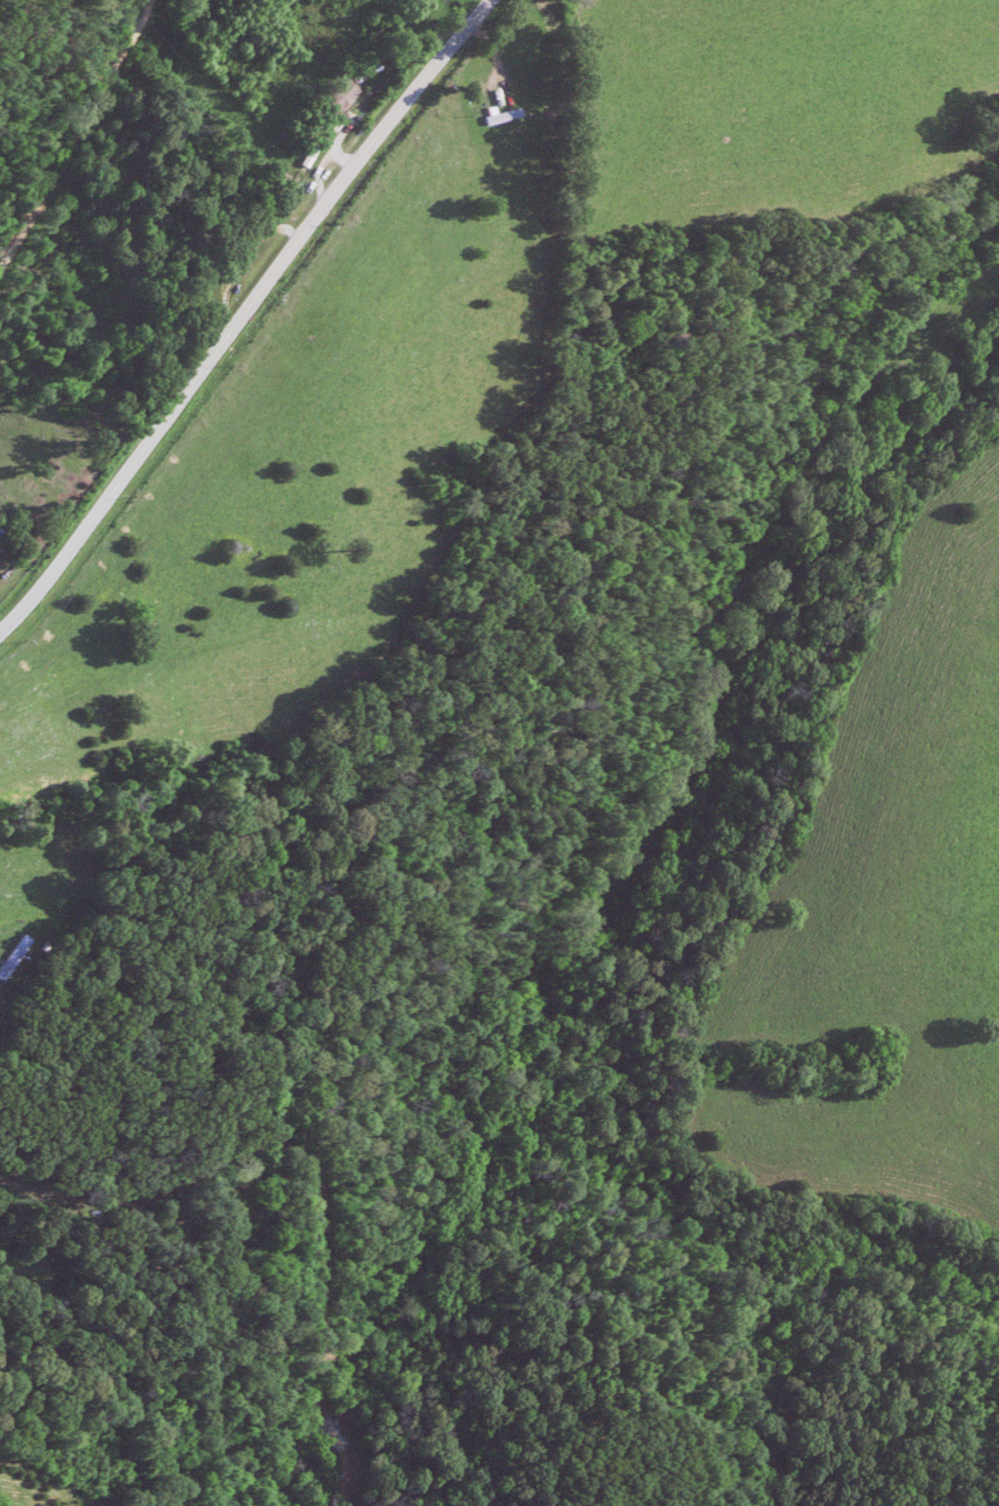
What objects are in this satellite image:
building: (334, 95)
road: (79, 134)
road: (244, 312)
building: (10, 951)

